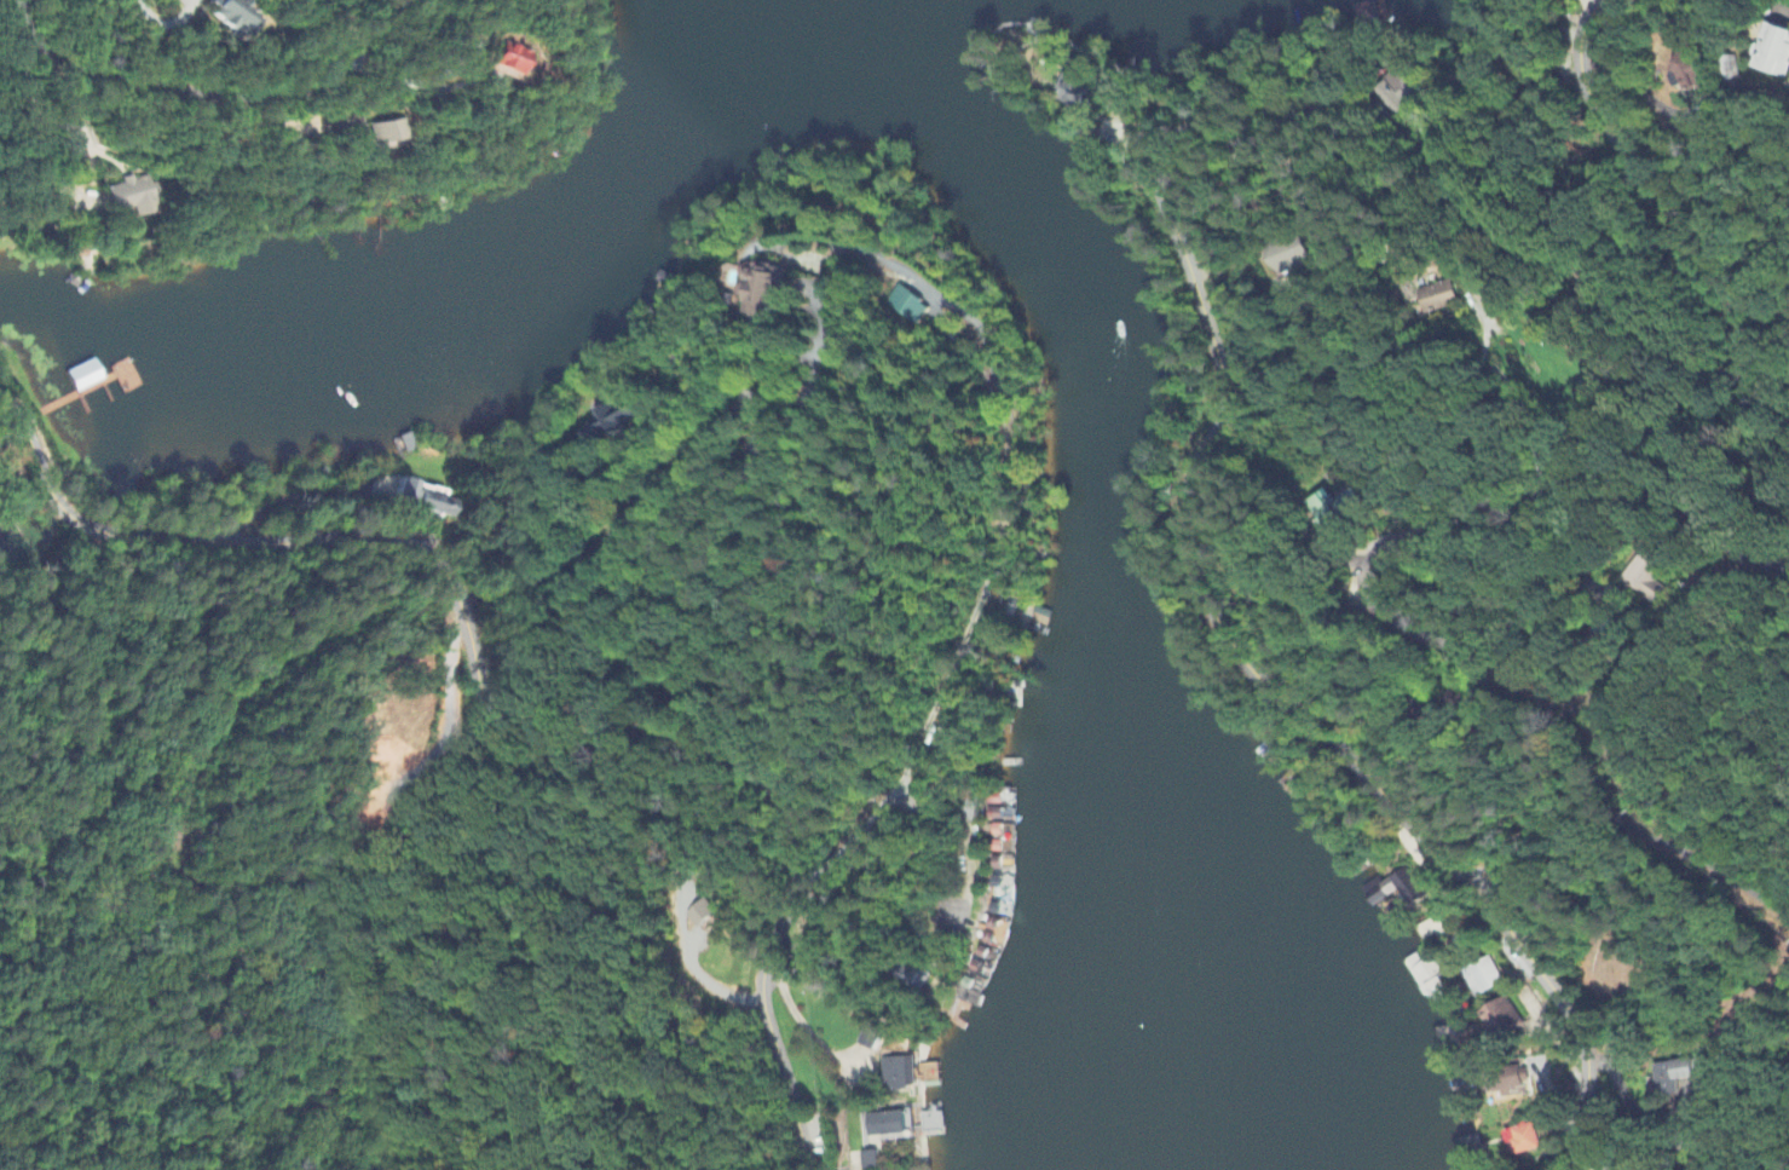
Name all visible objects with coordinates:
road: (168, 19)
building: (240, 19)
building: (1776, 56)
building: (508, 60)
building: (1687, 75)
road: (1633, 85)
road: (208, 92)
building: (1070, 93)
building: (1401, 94)
road: (37, 115)
building: (386, 133)
road: (1159, 186)
building: (138, 198)
building: (1295, 257)
building: (1, 263)
building: (767, 290)
building: (1443, 299)
building: (910, 306)
road: (1265, 346)
road: (691, 347)
building: (116, 377)
road: (1513, 400)
building: (431, 501)
road: (714, 502)
road: (1525, 503)
road: (625, 506)
building: (1333, 509)
road: (994, 515)
road: (1564, 552)
building: (1641, 577)
road: (452, 722)
road: (503, 734)
road: (1595, 808)
road: (1427, 876)
building: (1391, 889)
road: (942, 893)
building: (706, 915)
building: (1481, 981)
building: (1496, 1021)
building: (870, 1041)
building: (894, 1074)
building: (1669, 1078)
building: (1506, 1085)
building: (923, 1123)
building: (883, 1125)
building: (1518, 1140)
building: (868, 1162)

